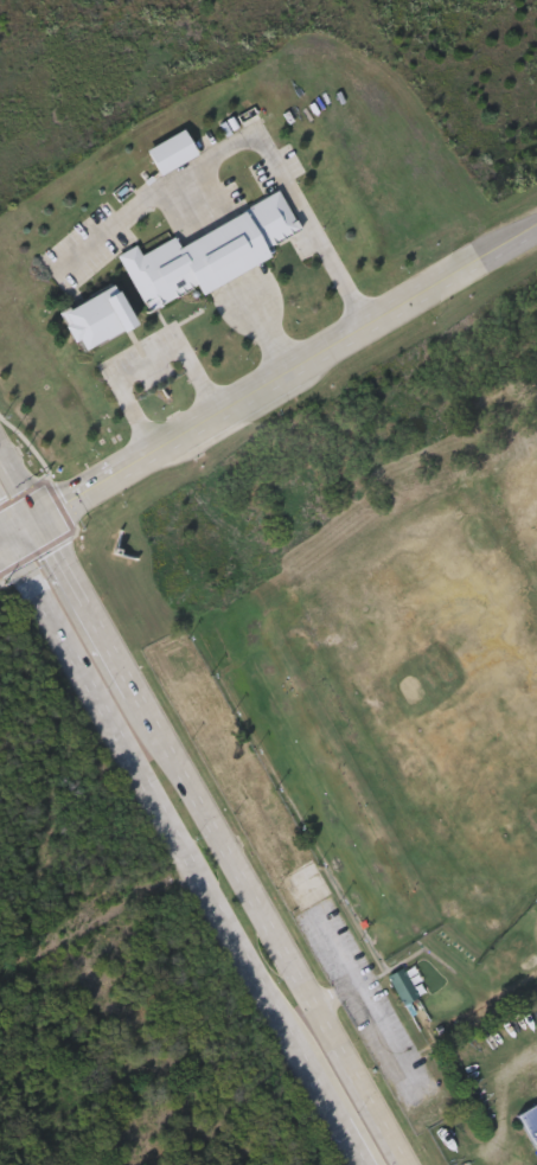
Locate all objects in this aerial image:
road: (244, 139)
building: (174, 154)
building: (211, 256)
building: (100, 320)
road: (147, 361)
road: (288, 372)
road: (20, 485)
traffic signals: (40, 520)
road: (5, 524)
road: (25, 527)
building: (57, 527)
traffic signals: (11, 535)
road: (5, 537)
park: (268, 582)
road: (88, 606)
road: (190, 849)
road: (268, 928)
building: (405, 988)
road: (335, 997)
road: (366, 1003)
parking lot: (369, 1003)
building: (531, 1125)

